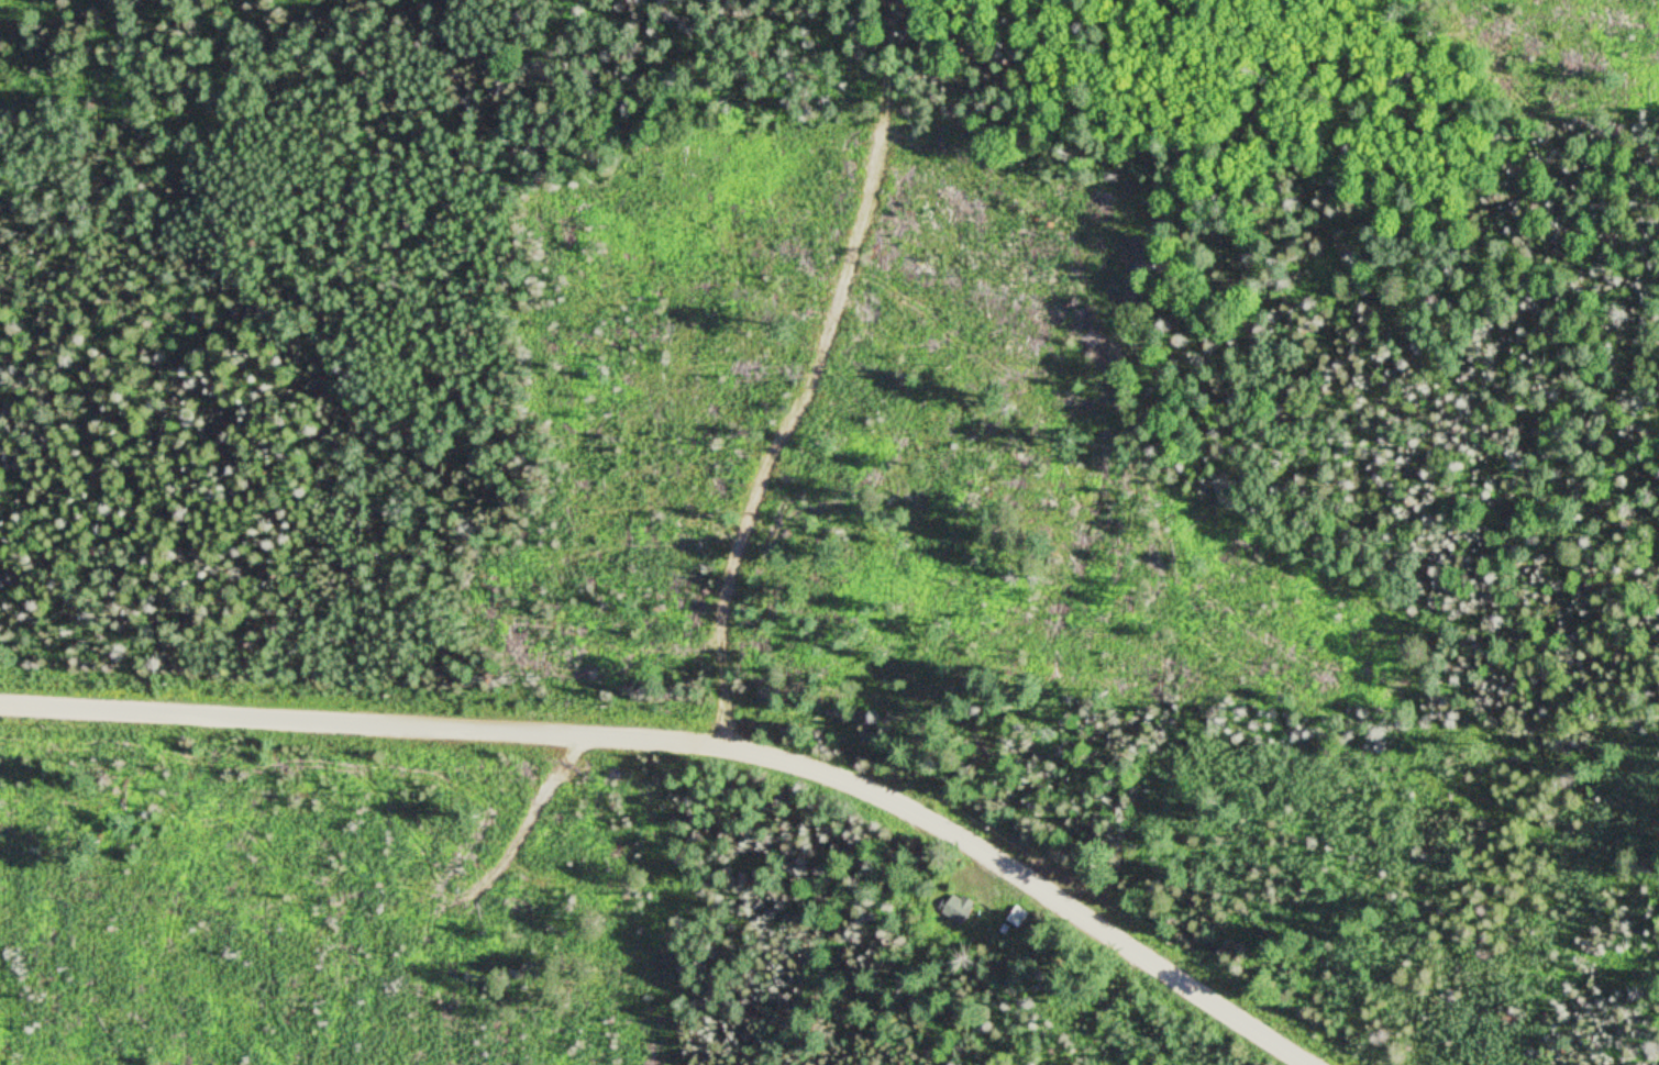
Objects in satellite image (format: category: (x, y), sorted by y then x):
road: (704, 740)
building: (962, 908)
building: (1020, 916)

